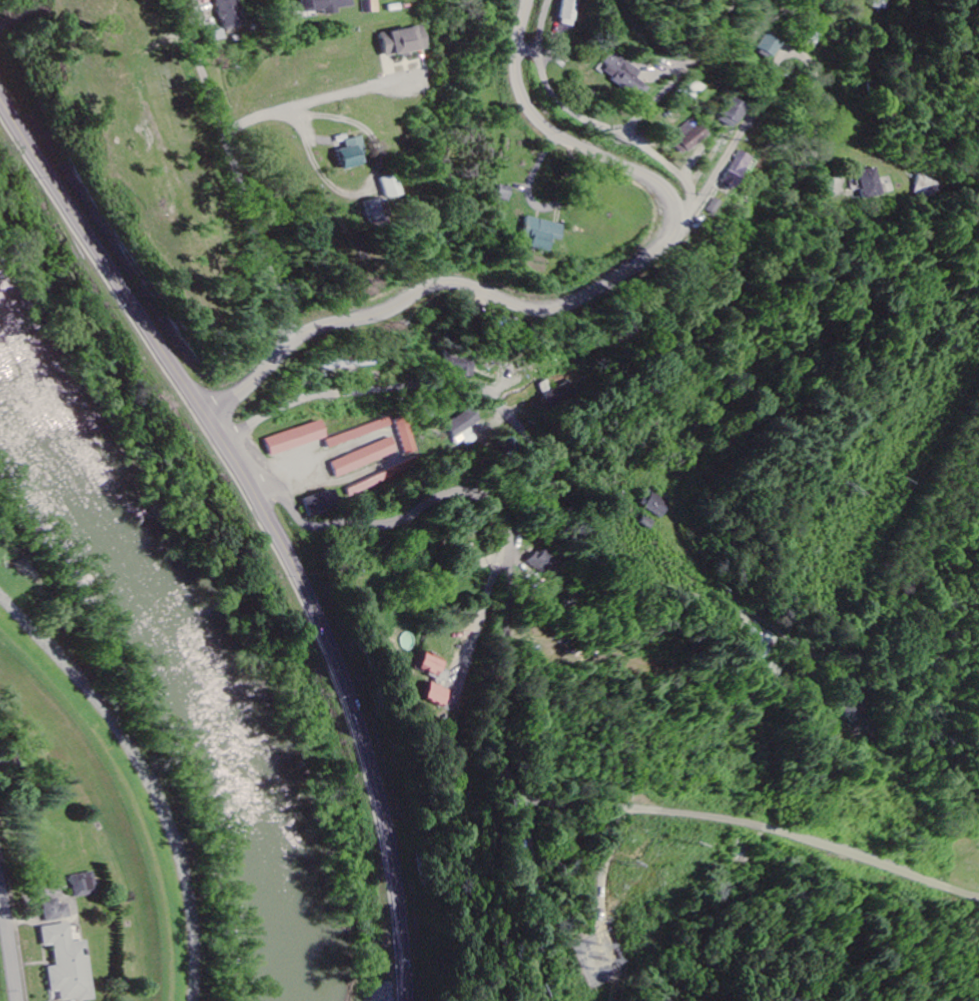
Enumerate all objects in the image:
road: (526, 4)
building: (324, 5)
building: (568, 12)
building: (232, 13)
building: (404, 41)
building: (767, 44)
building: (622, 74)
road: (542, 76)
road: (815, 109)
building: (727, 112)
building: (685, 135)
road: (732, 142)
road: (647, 149)
building: (350, 155)
building: (733, 170)
road: (241, 176)
building: (866, 183)
building: (388, 187)
building: (502, 193)
building: (710, 206)
building: (374, 211)
building: (538, 233)
road: (625, 269)
building: (457, 368)
road: (245, 386)
road: (357, 392)
building: (560, 395)
building: (464, 428)
building: (356, 433)
building: (405, 435)
road: (230, 436)
building: (295, 438)
building: (364, 457)
building: (321, 502)
building: (656, 505)
road: (270, 523)
road: (302, 533)
building: (541, 563)
road: (636, 600)
building: (403, 641)
building: (760, 643)
building: (430, 667)
river: (207, 668)
road: (42, 678)
building: (435, 695)
building: (857, 710)
road: (497, 733)
building: (85, 884)
road: (546, 899)
building: (57, 910)
road: (10, 942)
building: (69, 963)

